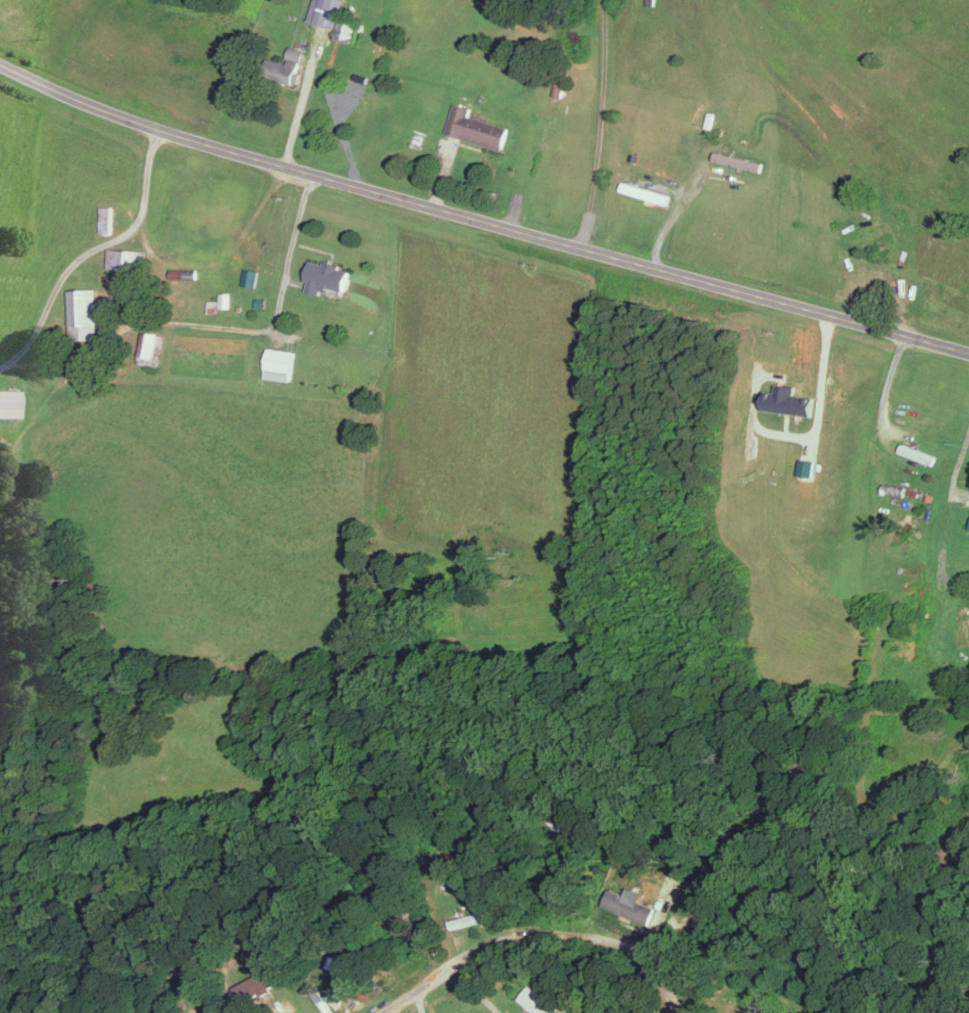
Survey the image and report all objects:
building: (328, 3)
building: (345, 27)
building: (289, 66)
road: (302, 99)
road: (602, 124)
building: (475, 127)
building: (645, 192)
road: (671, 213)
building: (108, 218)
road: (480, 218)
road: (317, 248)
road: (91, 249)
building: (127, 257)
building: (184, 271)
building: (328, 275)
building: (252, 276)
building: (228, 299)
building: (262, 301)
building: (214, 305)
building: (240, 307)
building: (85, 313)
road: (210, 325)
building: (151, 342)
building: (161, 344)
building: (151, 358)
building: (282, 358)
building: (280, 373)
road: (887, 386)
building: (9, 402)
building: (919, 453)
road: (957, 466)
building: (896, 488)
building: (916, 491)
building: (783, 757)
building: (788, 759)
building: (558, 823)
building: (451, 845)
building: (452, 856)
building: (427, 858)
building: (436, 862)
building: (369, 888)
building: (631, 905)
building: (395, 908)
building: (409, 915)
building: (471, 918)
road: (537, 934)
building: (349, 942)
building: (342, 952)
building: (330, 967)
building: (261, 970)
building: (327, 976)
building: (259, 983)
building: (346, 983)
building: (190, 985)
building: (266, 991)
building: (319, 996)
building: (539, 1001)
building: (762, 1004)
building: (213, 1010)
building: (562, 1011)

